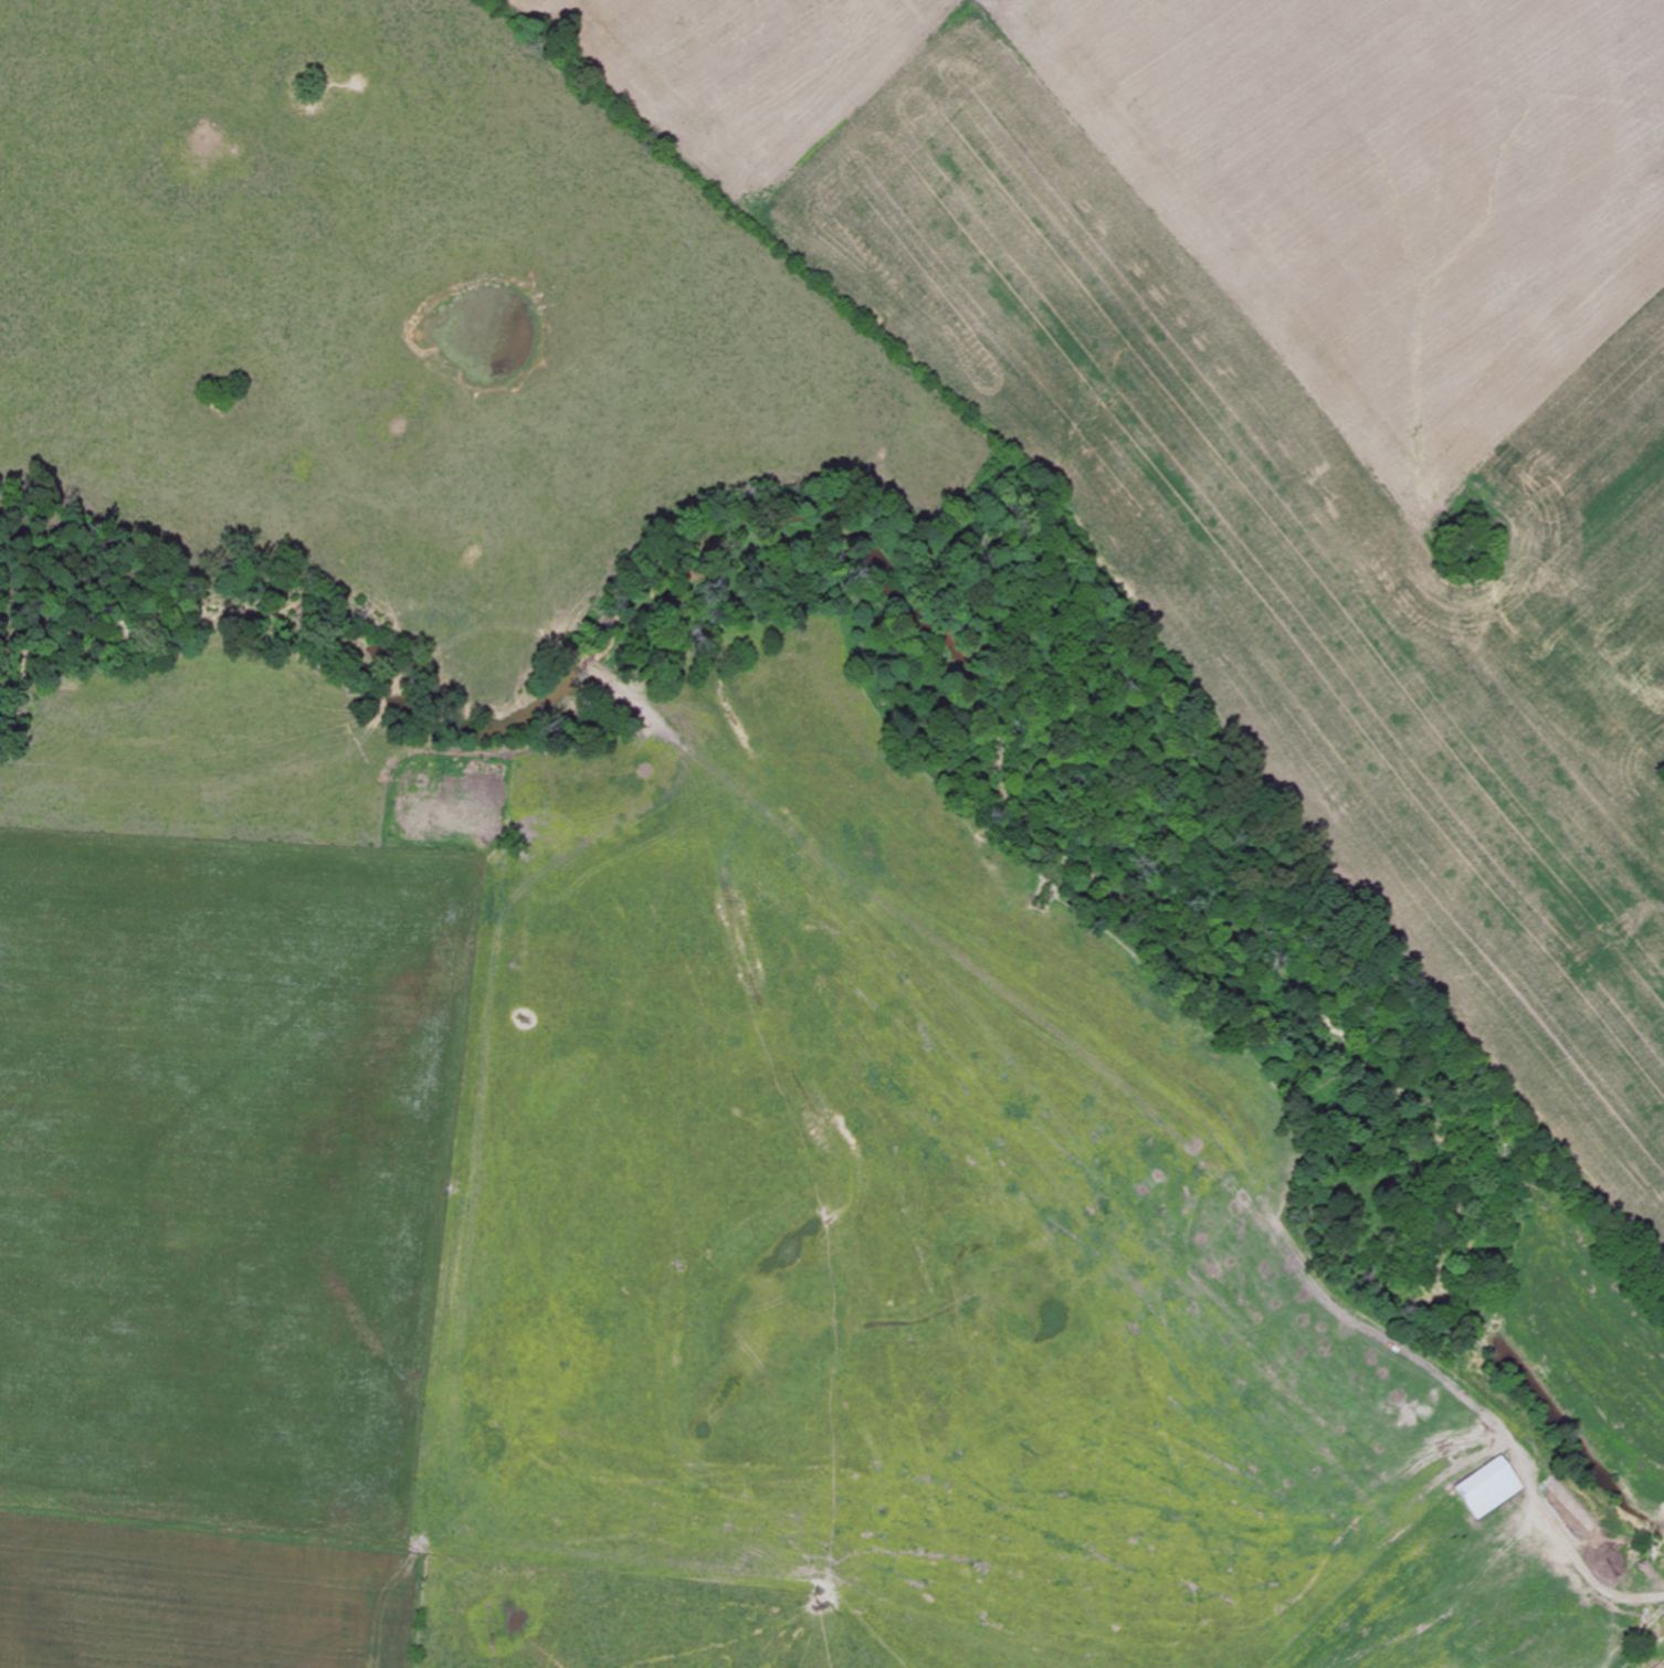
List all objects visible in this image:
building: (1485, 1488)

